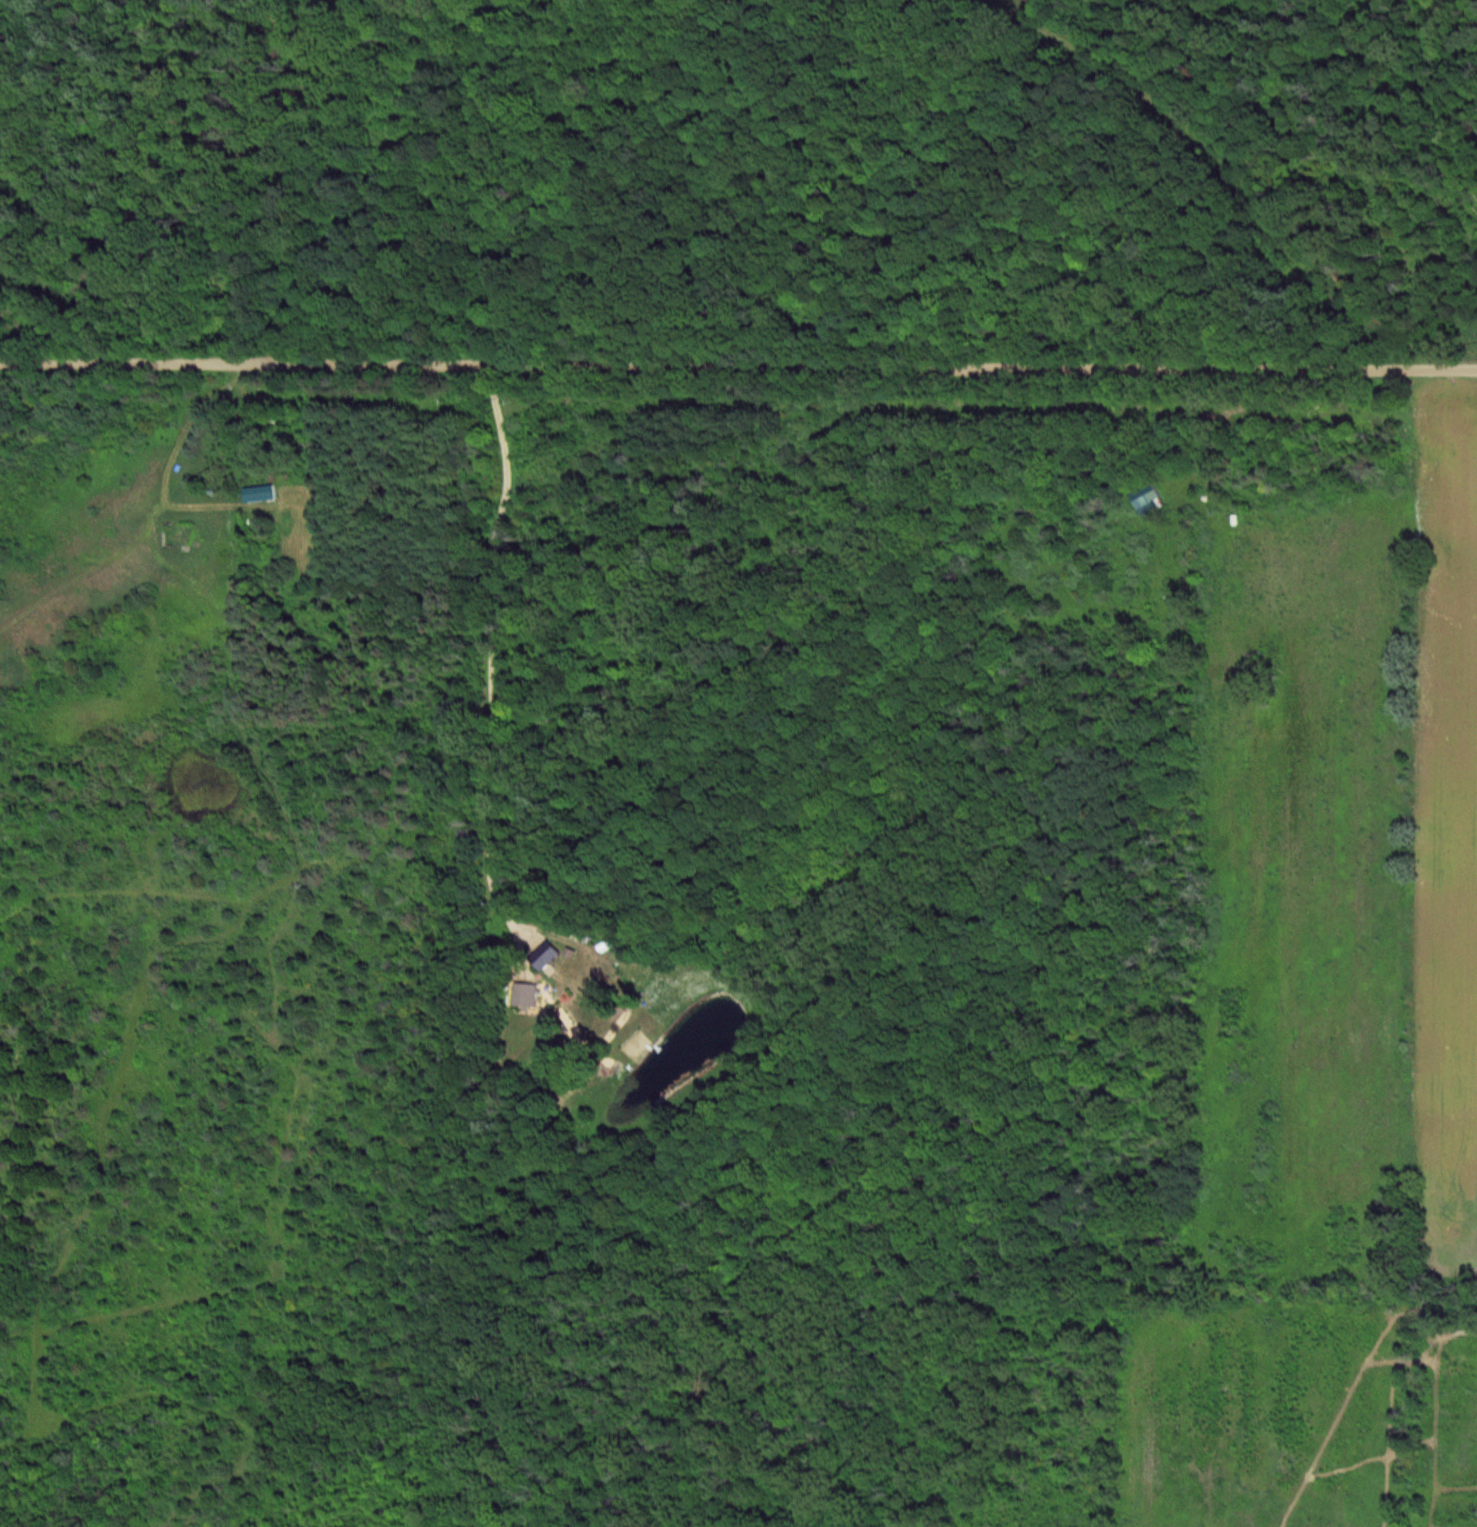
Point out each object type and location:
road: (738, 367)
road: (168, 461)
building: (260, 493)
road: (490, 653)
building: (527, 995)

